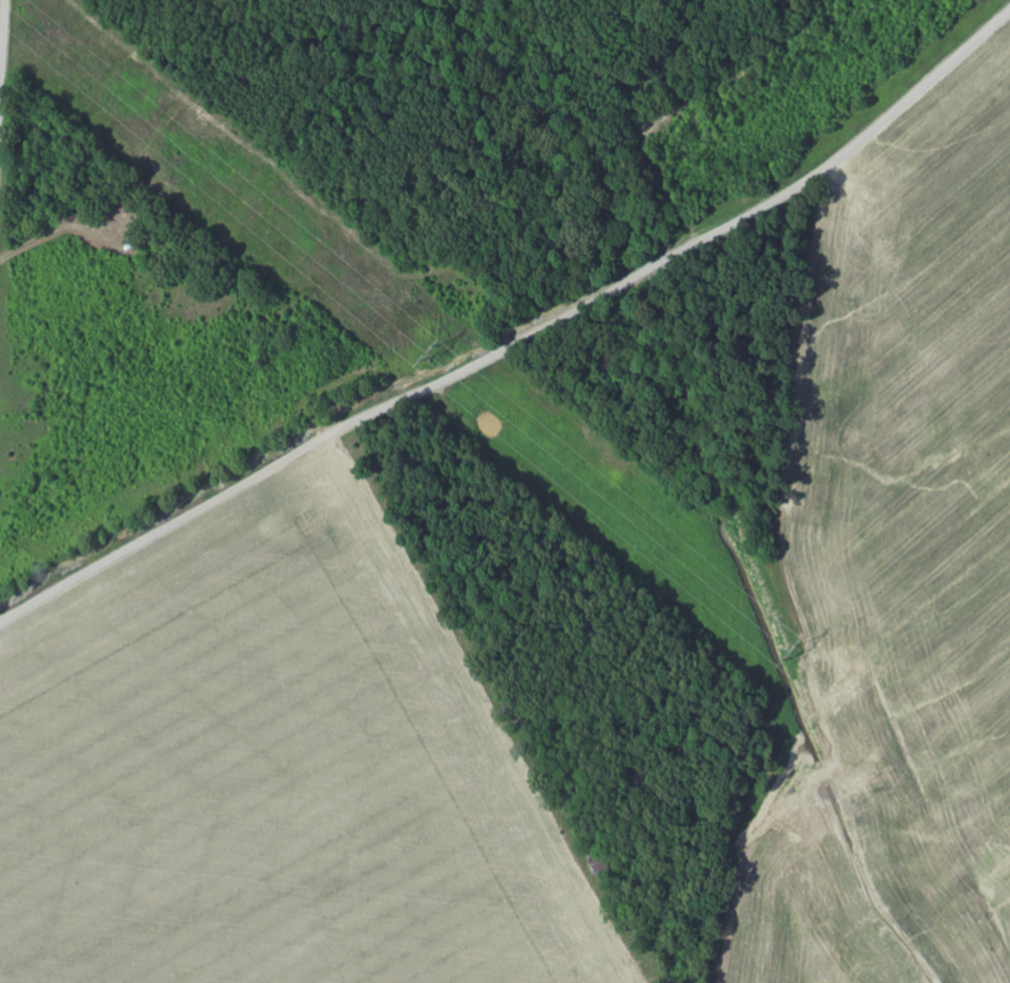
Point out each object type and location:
road: (1, 34)
road: (522, 340)
power tower: (434, 355)
power tower: (789, 653)

